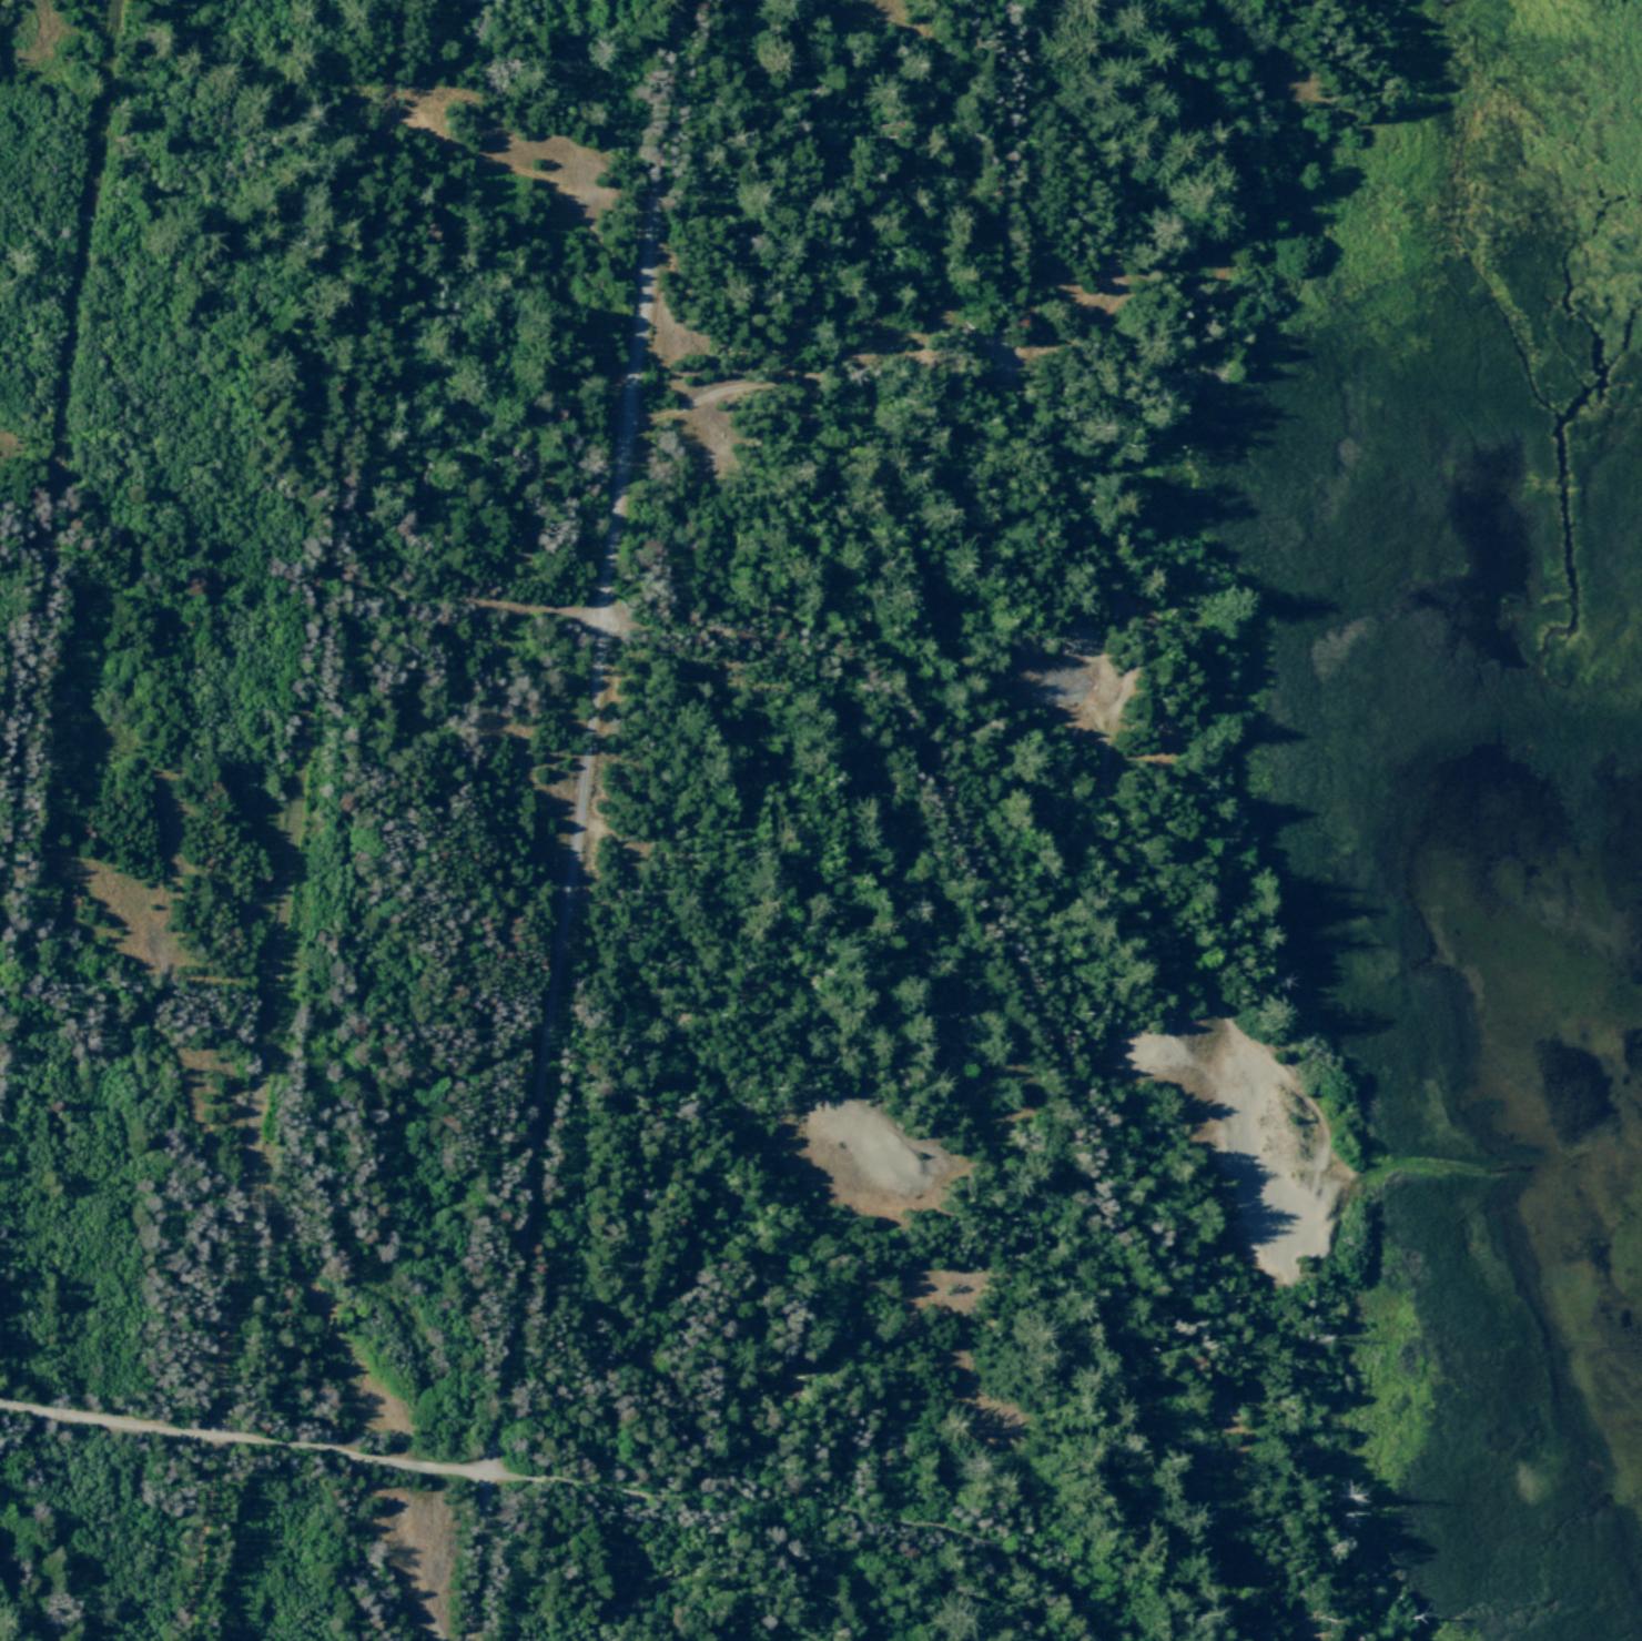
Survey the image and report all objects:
road: (1003, 185)
road: (60, 464)
road: (841, 666)
road: (994, 720)
road: (297, 820)
road: (579, 820)
road: (854, 1411)
road: (574, 1485)

